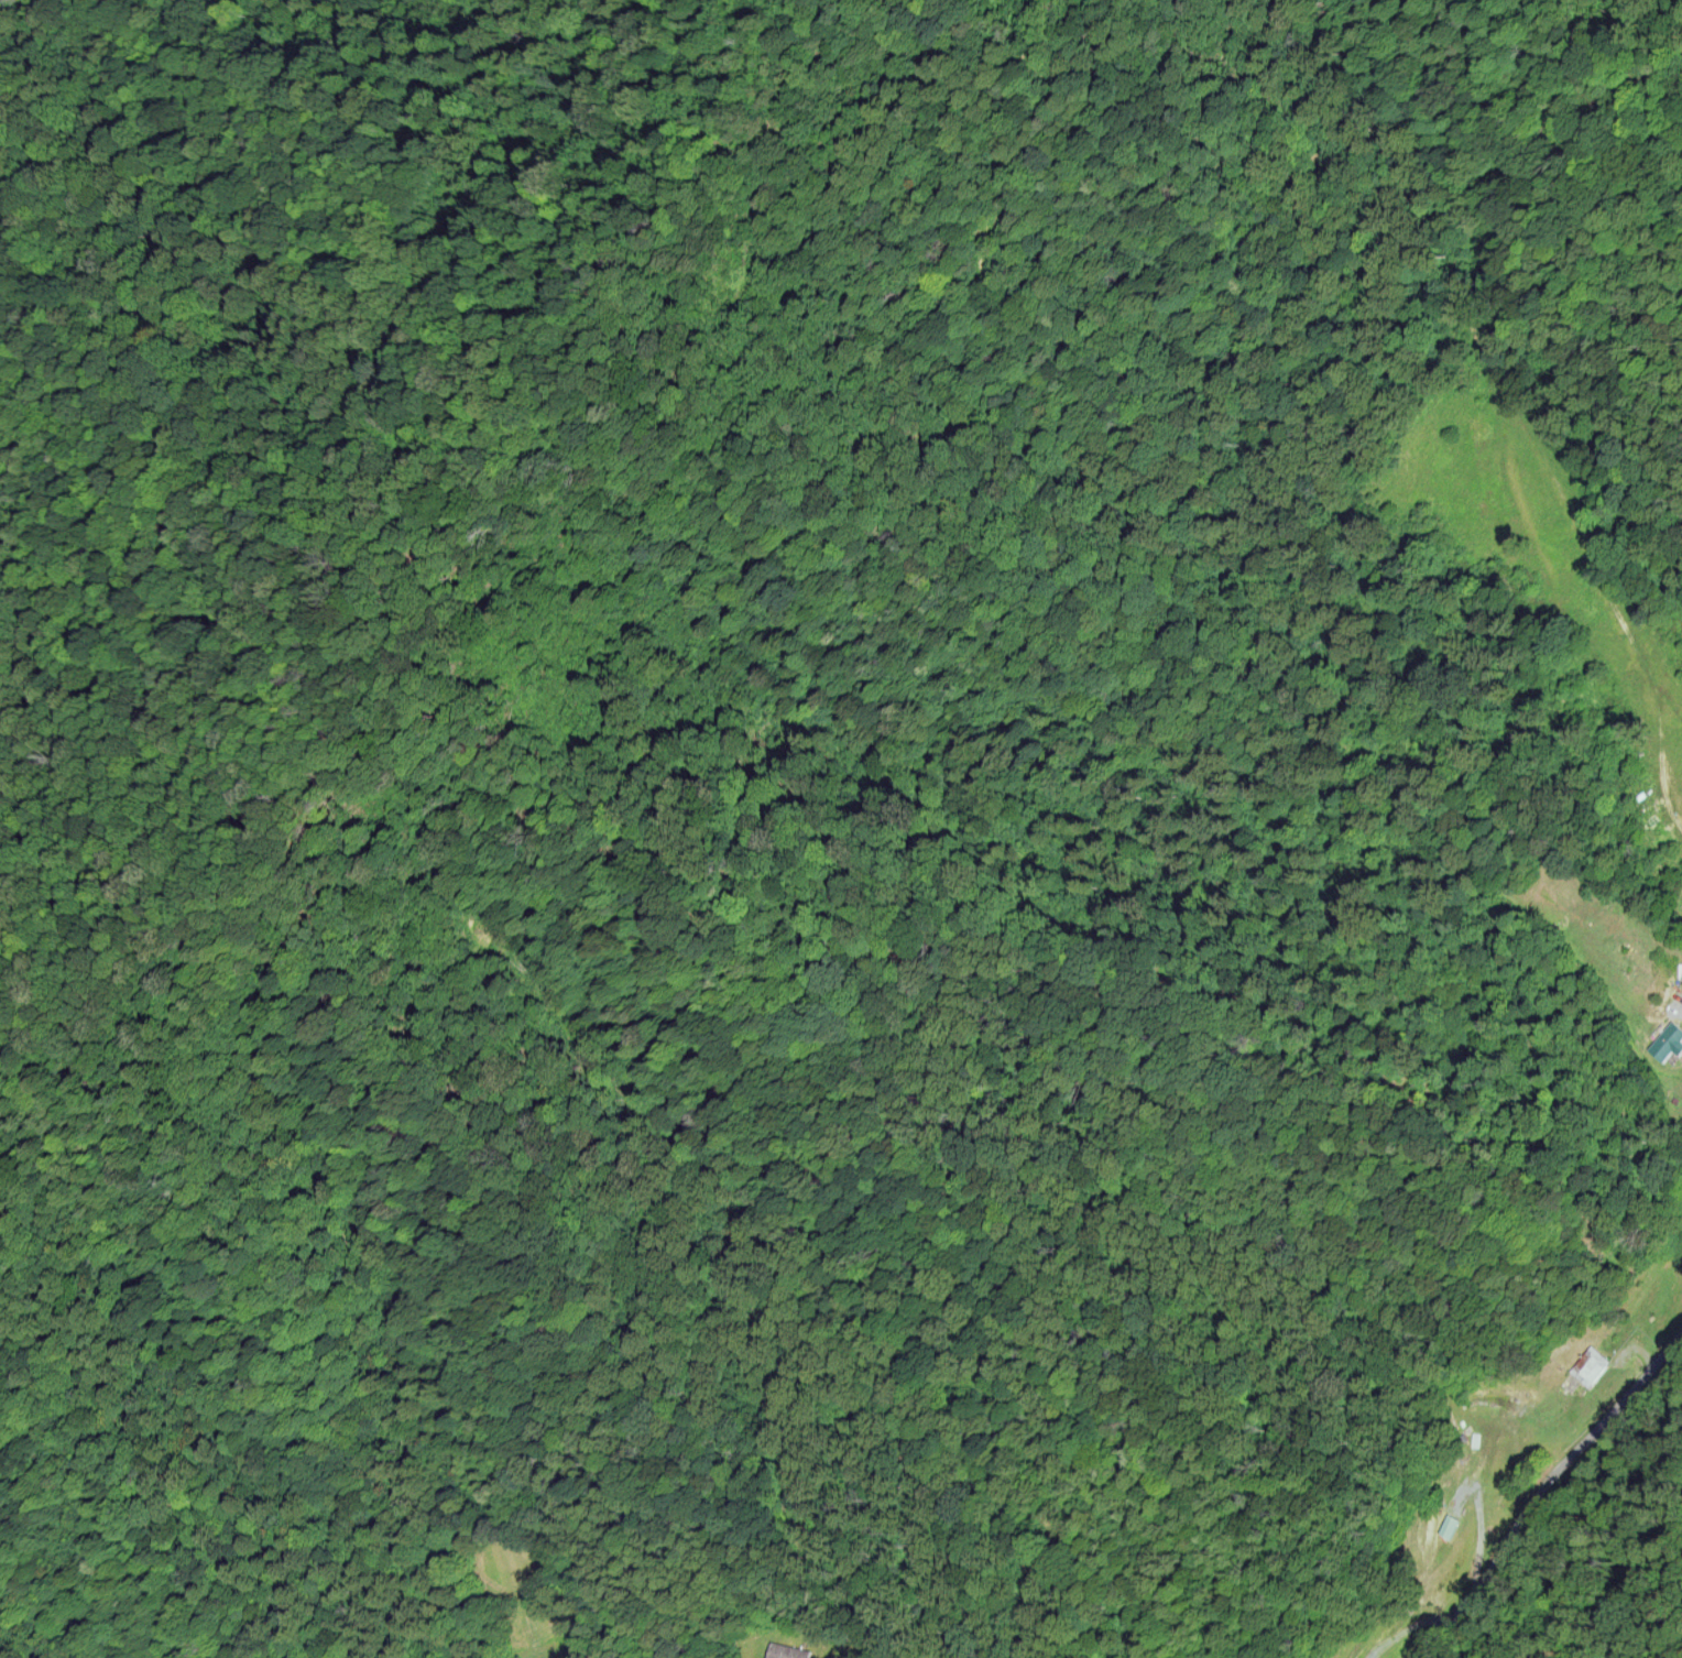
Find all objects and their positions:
road: (1180, 1295)
building: (1591, 1364)
road: (1534, 1491)
building: (790, 1651)

